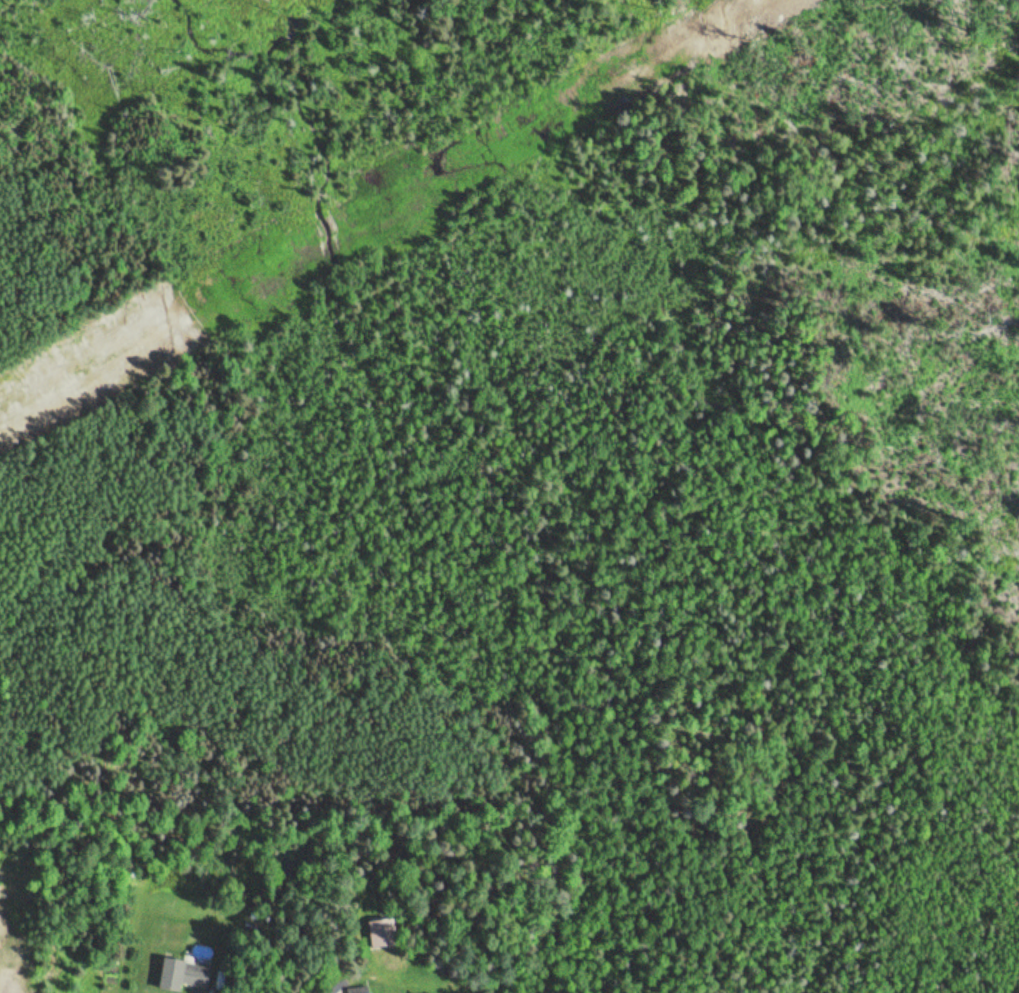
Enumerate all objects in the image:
building: (381, 933)
building: (191, 973)
building: (358, 990)

